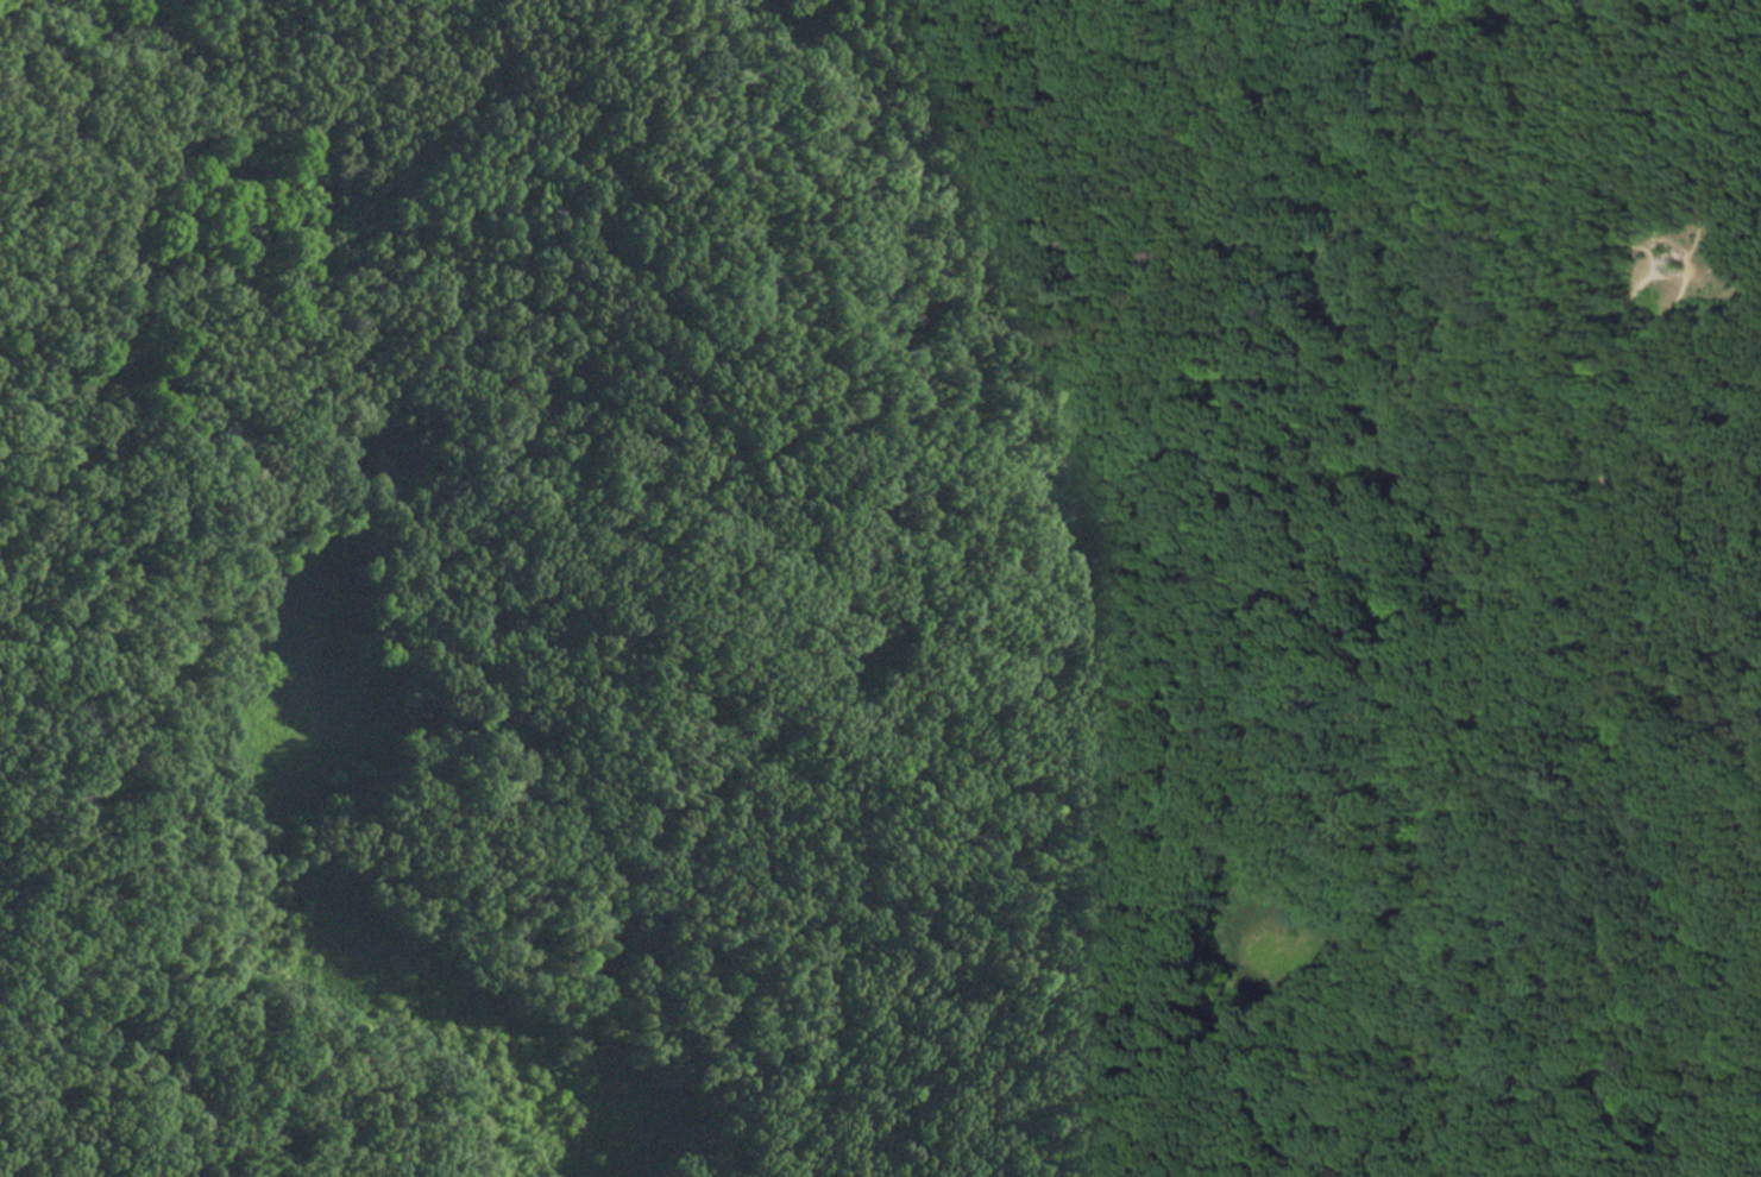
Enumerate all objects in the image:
road: (1543, 218)
road: (1684, 254)
road: (1709, 263)
road: (1662, 275)
road: (1600, 398)
park: (880, 588)

